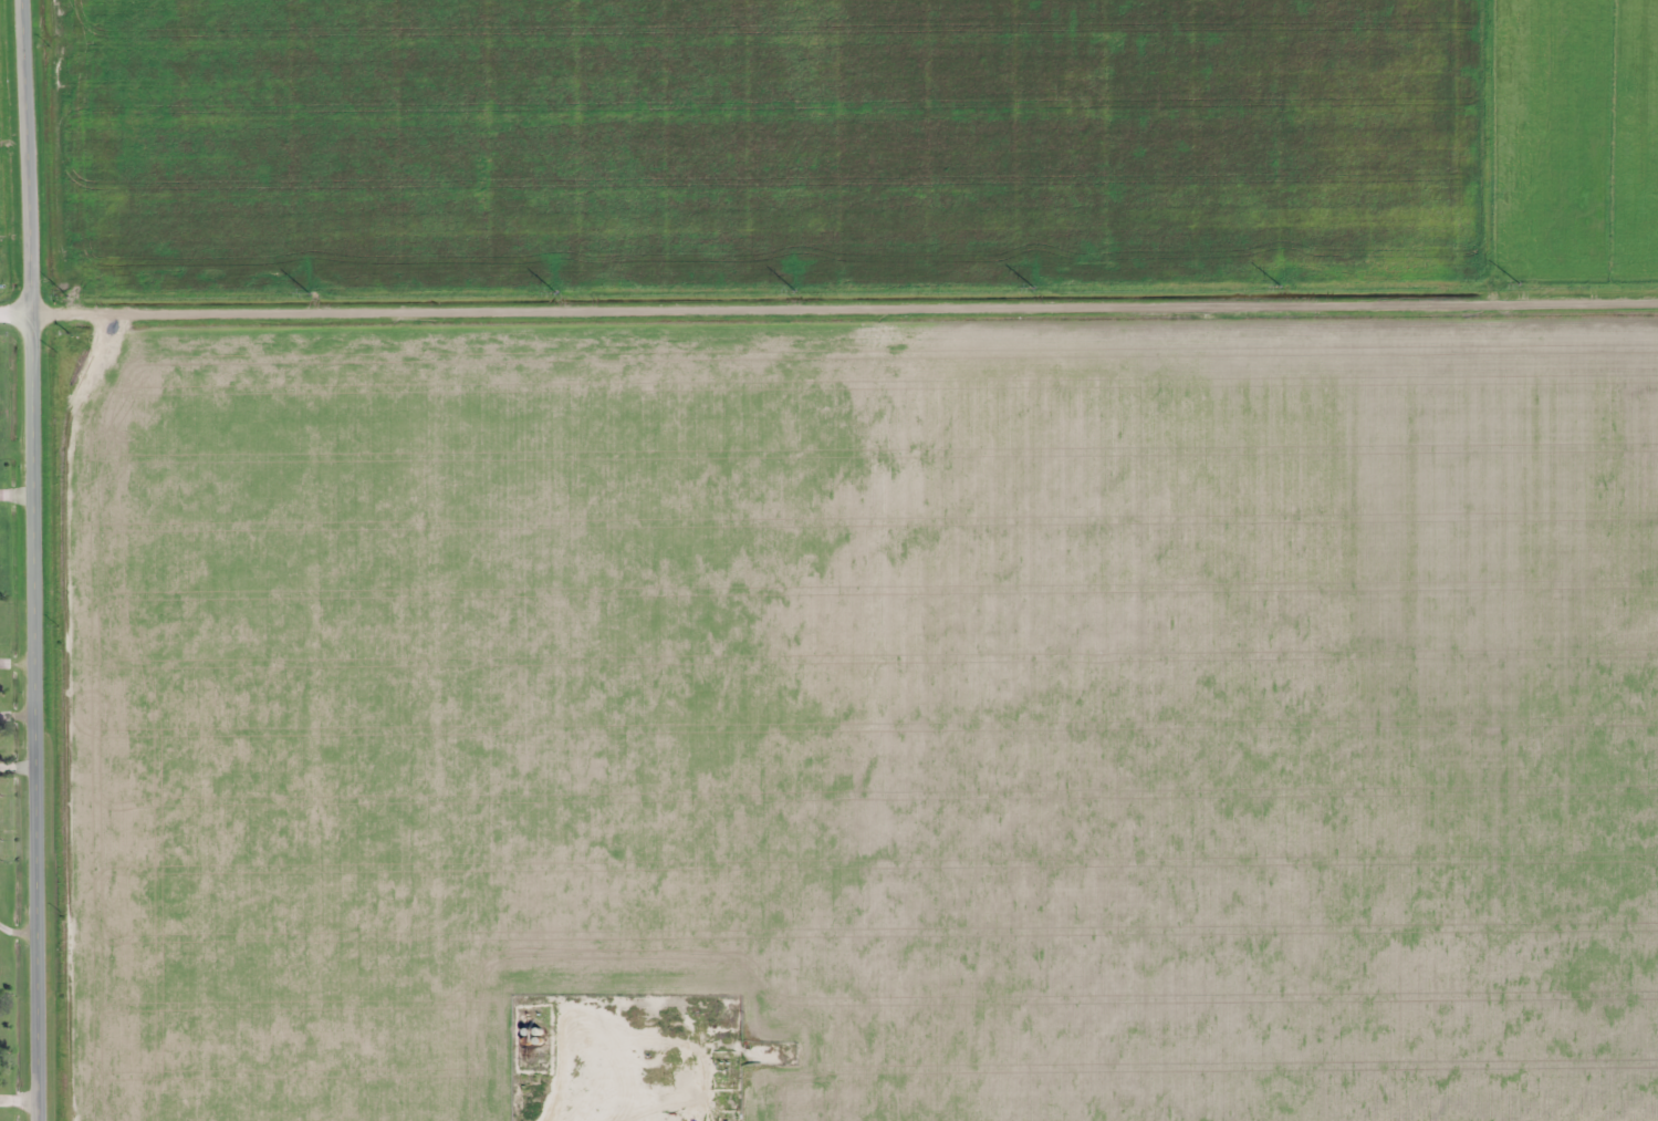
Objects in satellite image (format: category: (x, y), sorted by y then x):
road: (828, 309)
road: (35, 560)

